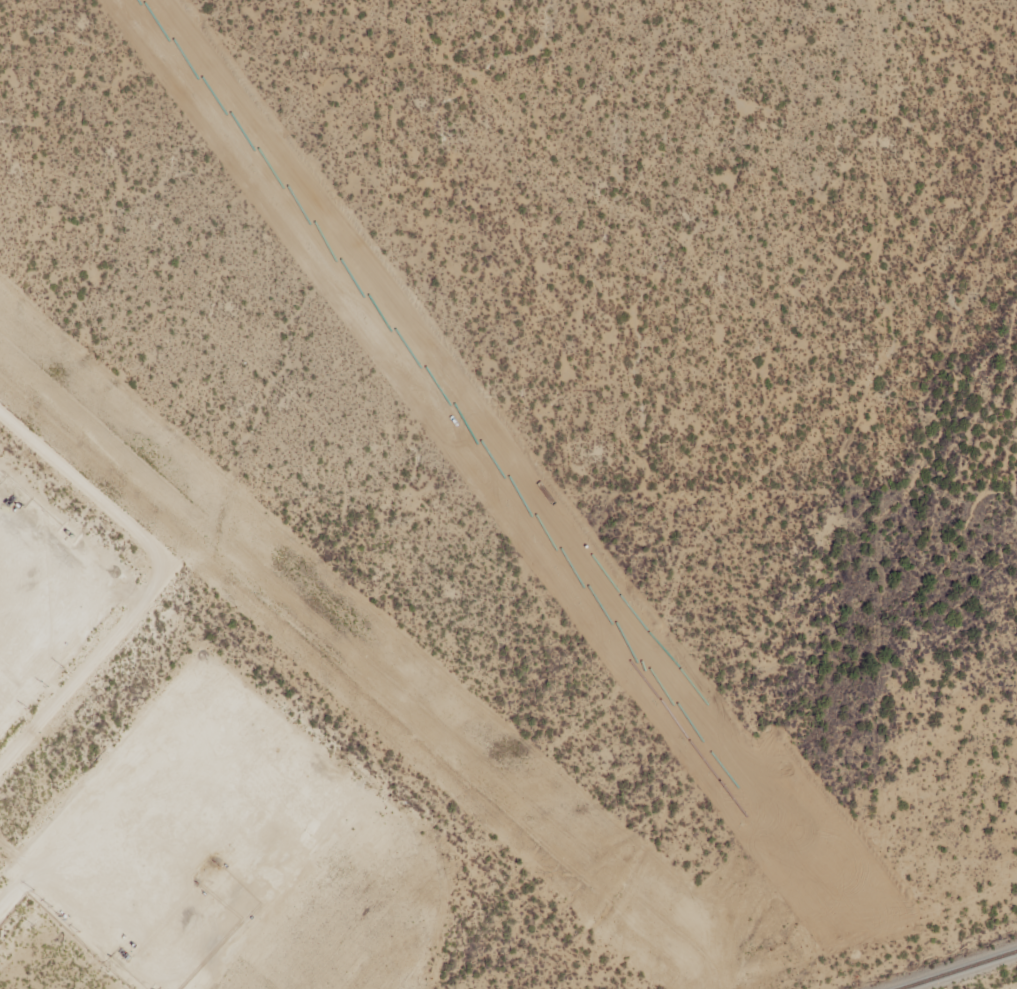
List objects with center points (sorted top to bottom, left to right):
railway: (958, 970)

